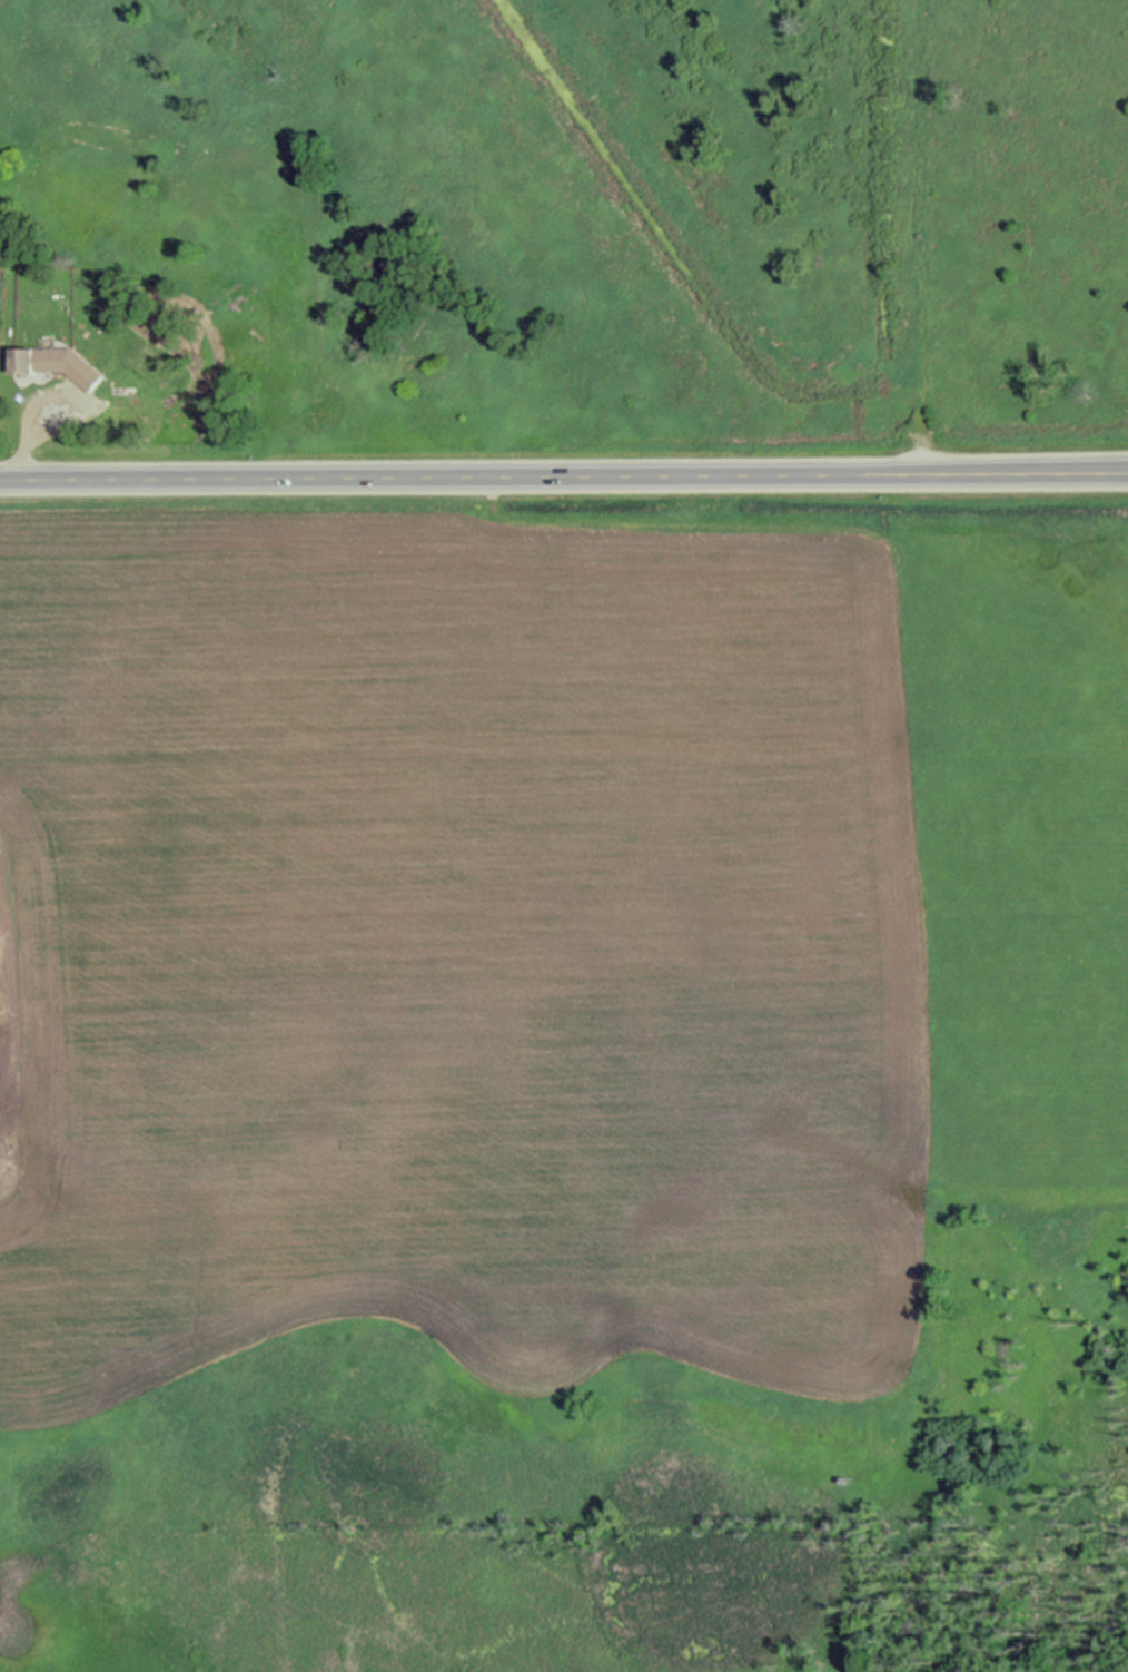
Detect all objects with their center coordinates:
building: (917, 236)
building: (125, 311)
building: (48, 345)
building: (56, 365)
building: (121, 384)
road: (564, 479)

